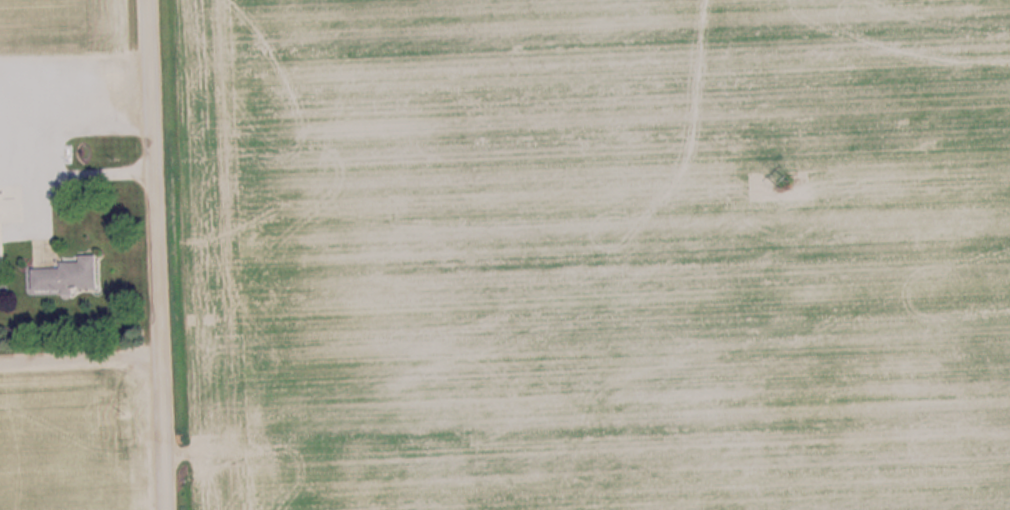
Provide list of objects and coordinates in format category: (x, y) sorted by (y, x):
power tower: (787, 187)
building: (1, 226)
road: (154, 255)
building: (72, 275)

